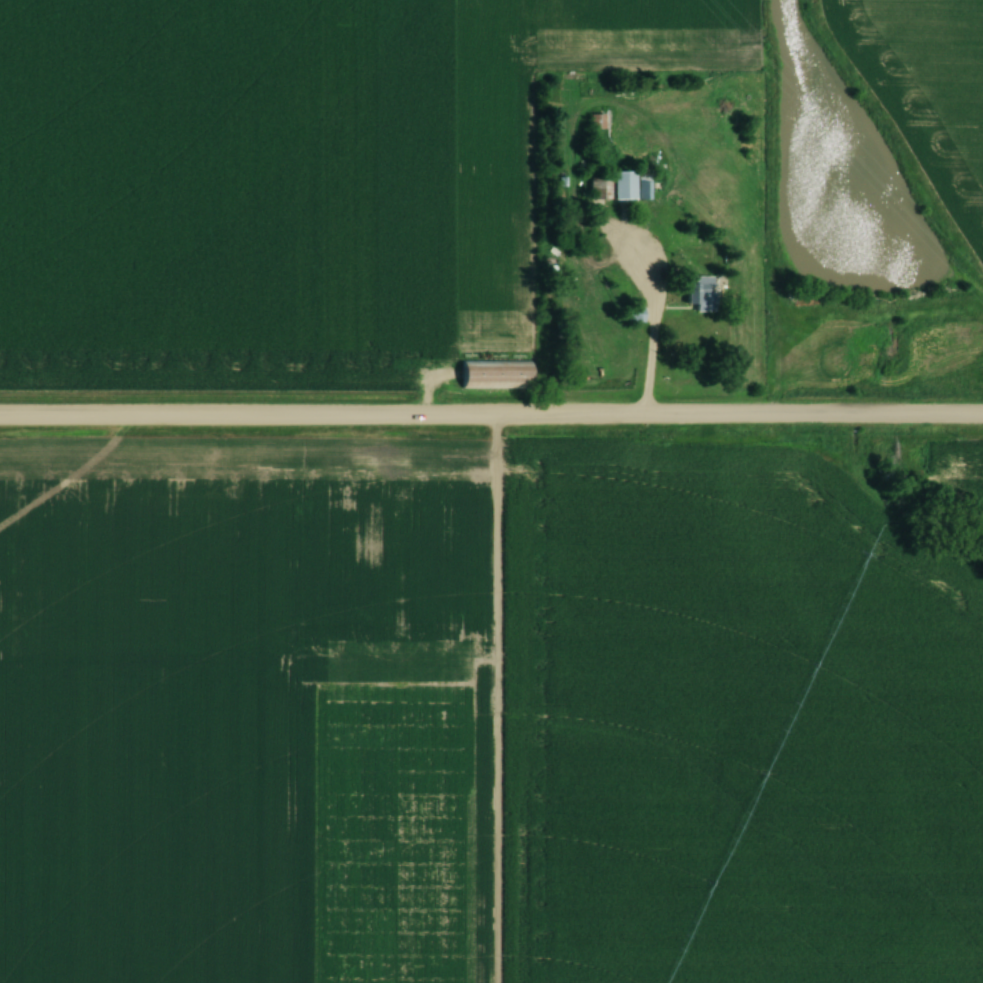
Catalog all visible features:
building: (597, 122)
building: (618, 188)
building: (701, 293)
building: (635, 315)
road: (650, 355)
building: (496, 374)
road: (491, 417)

